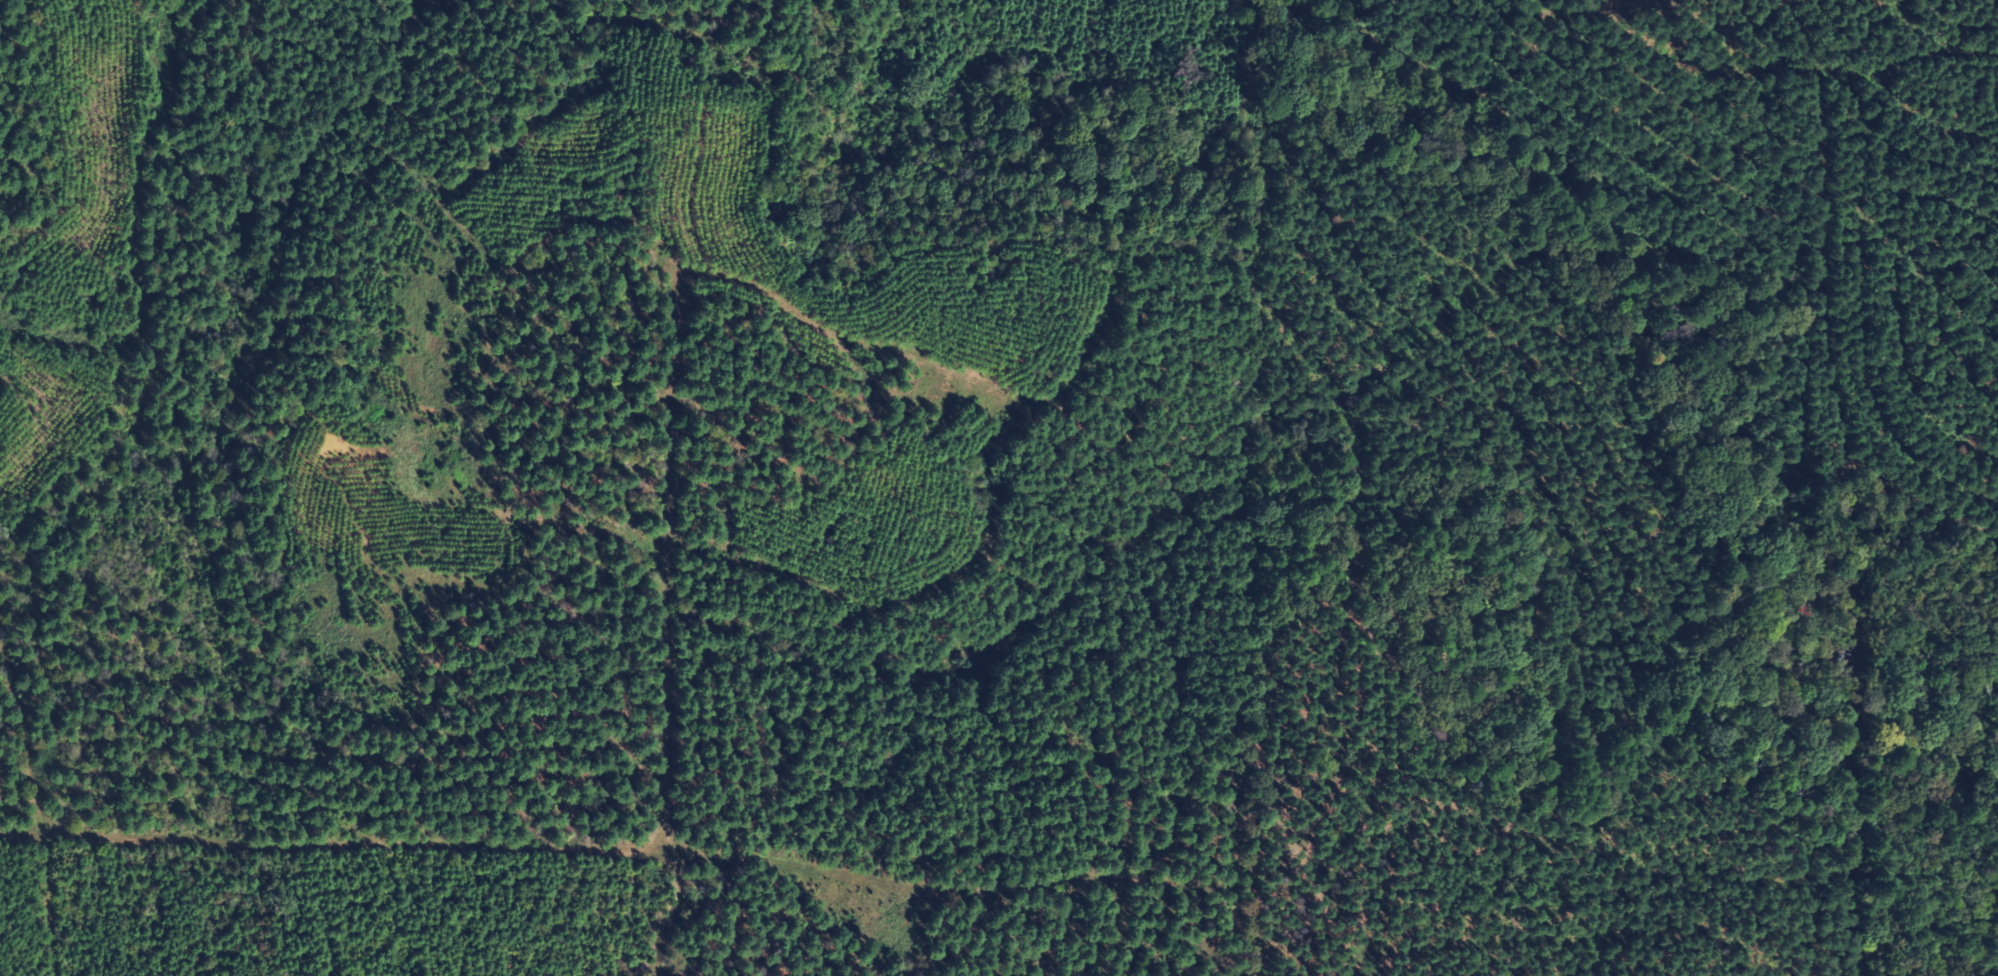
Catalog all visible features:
road: (32, 834)

